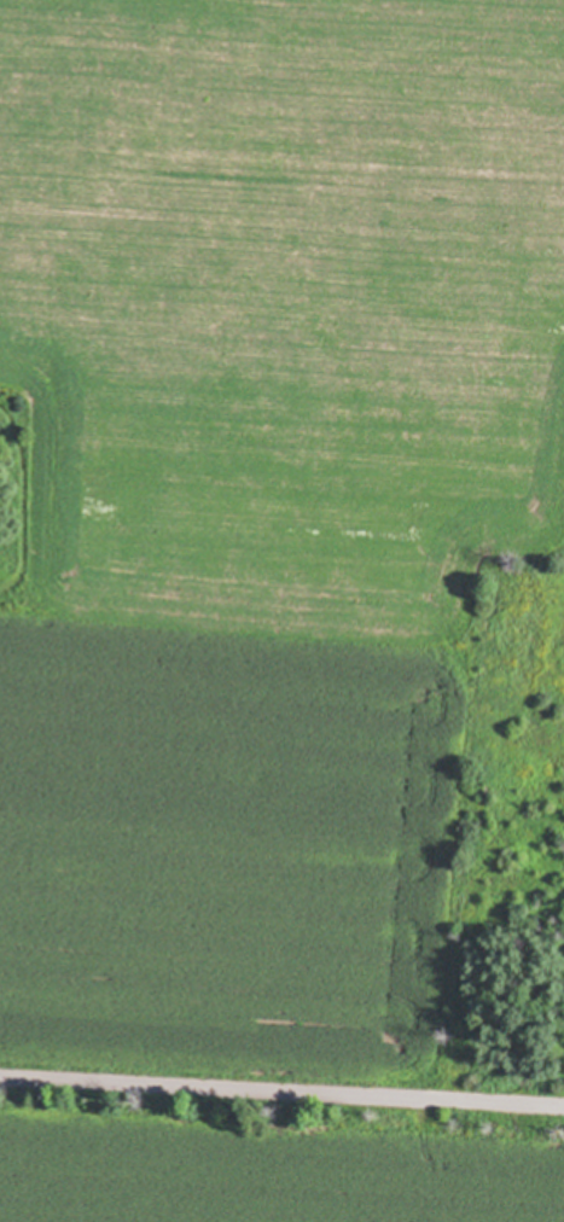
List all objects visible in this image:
quarry: (517, 843)
road: (281, 1093)

